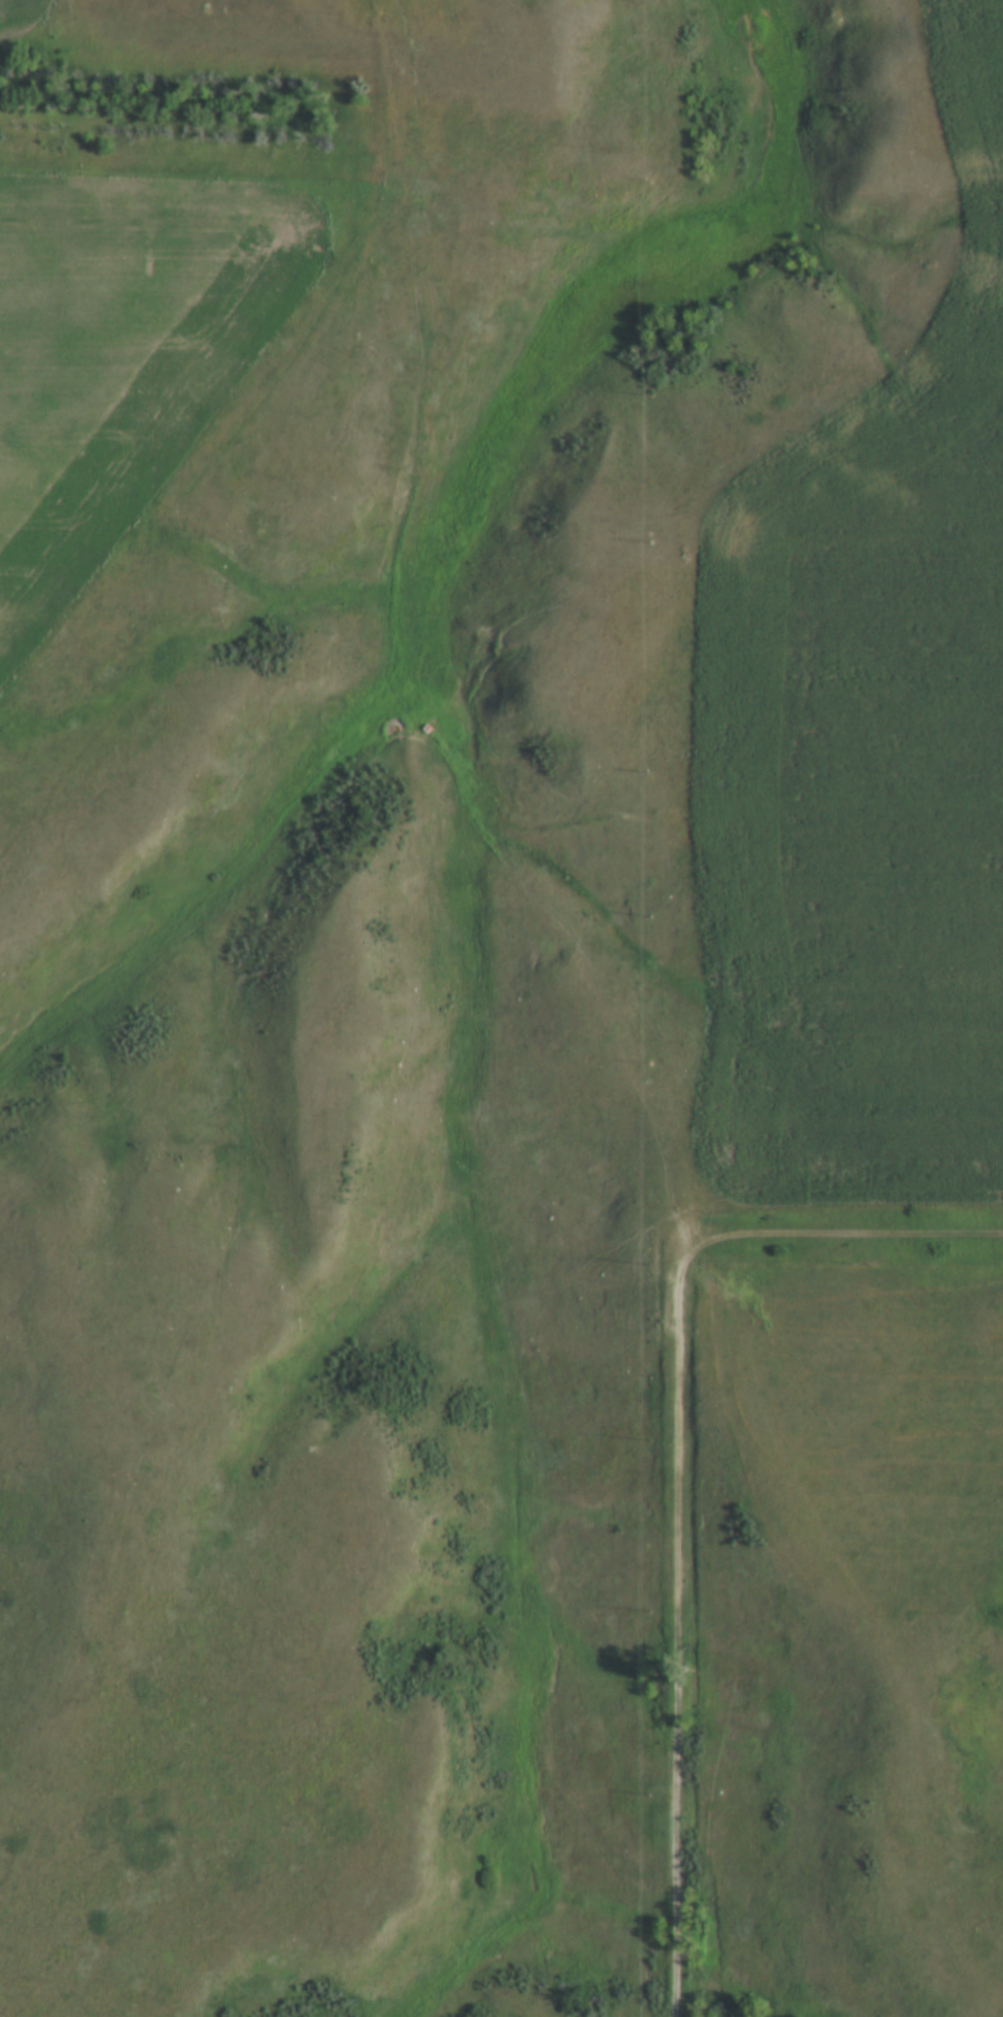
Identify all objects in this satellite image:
road: (676, 1473)

